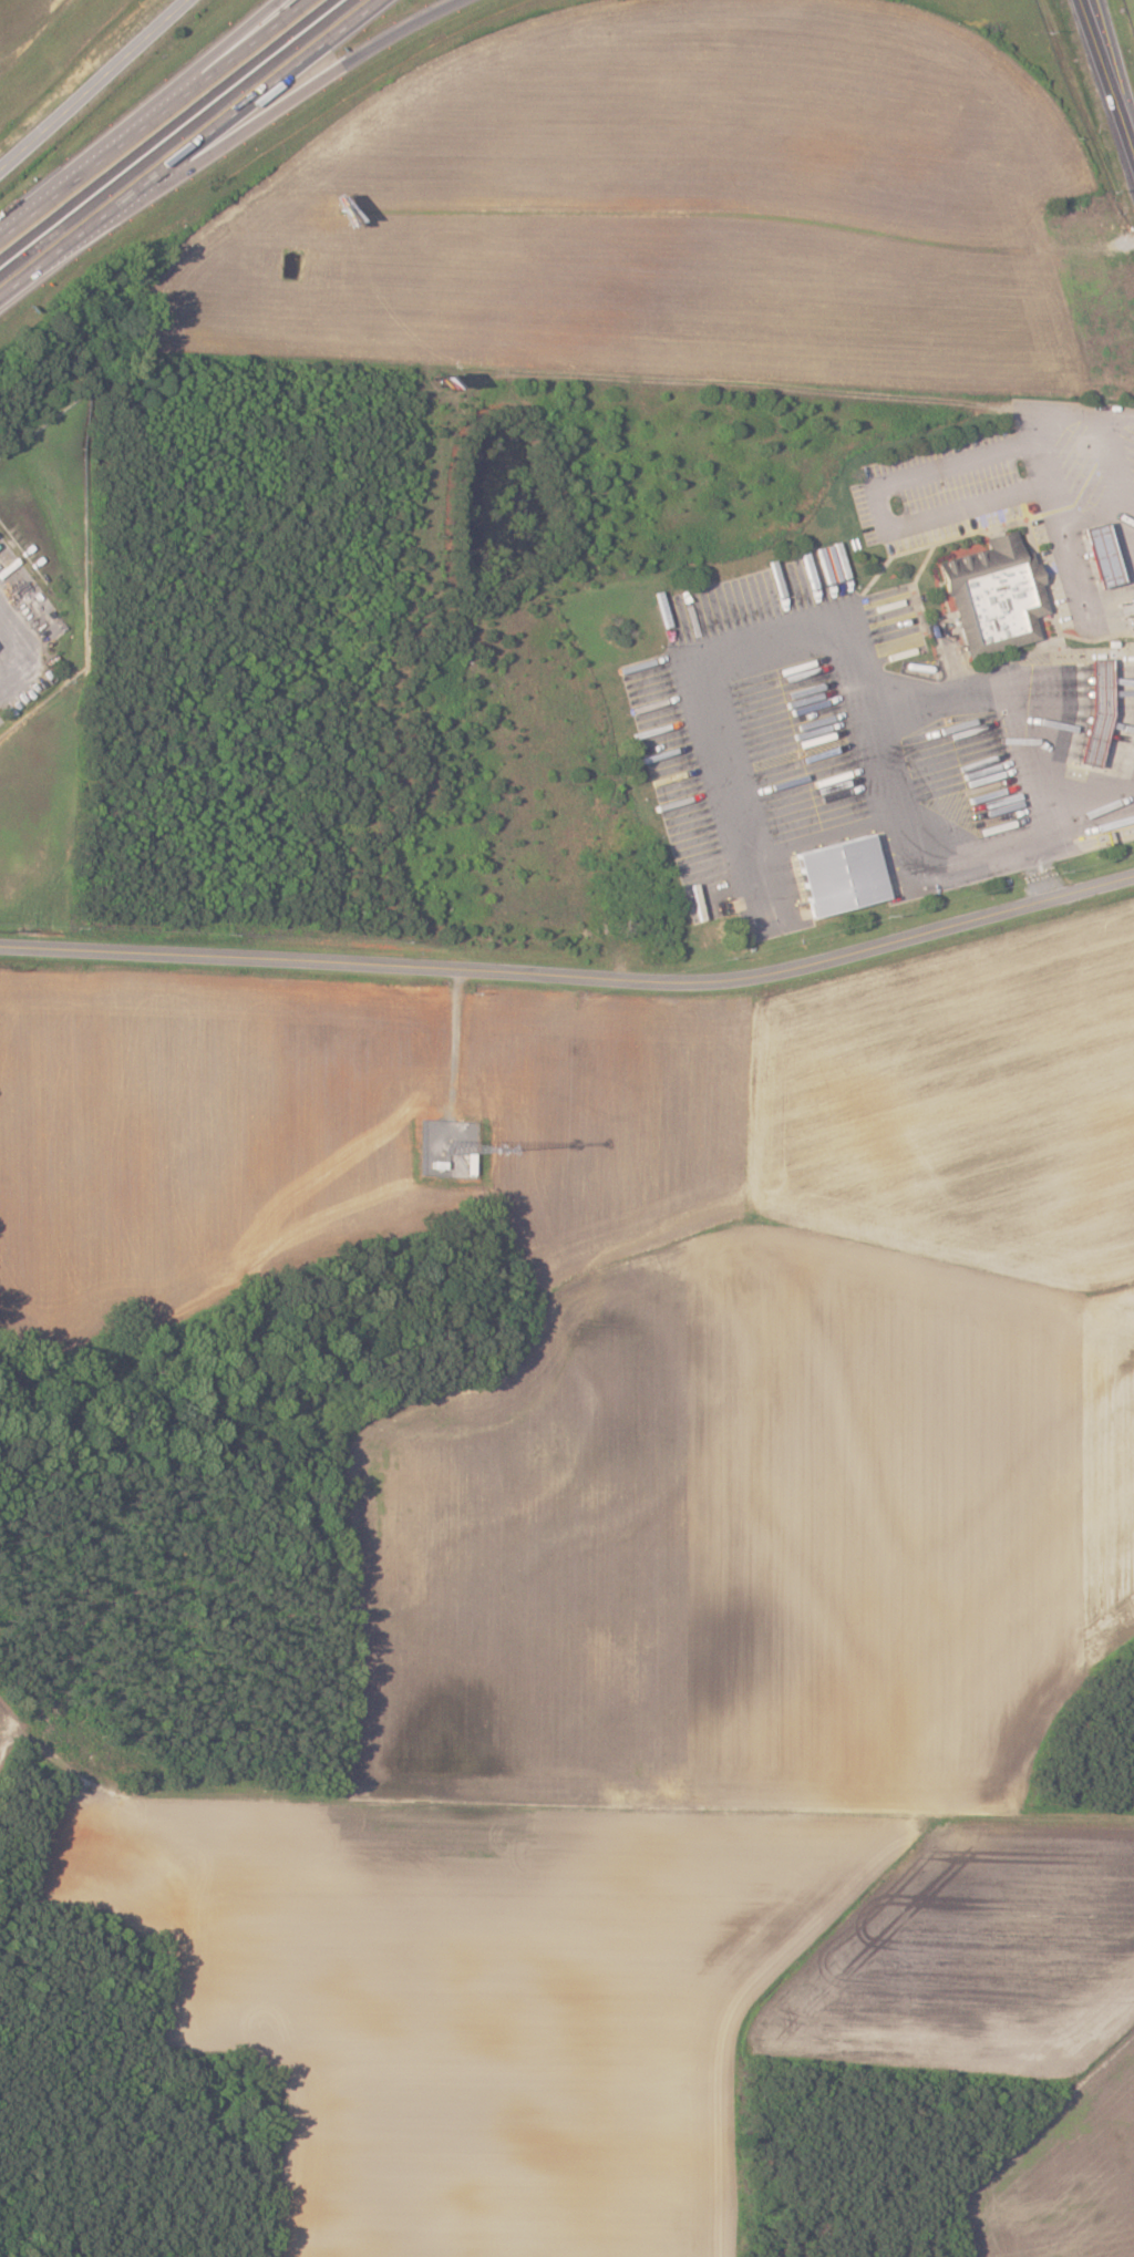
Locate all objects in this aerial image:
road: (1111, 73)
road: (97, 86)
road: (142, 117)
road: (157, 123)
road: (261, 123)
road: (190, 150)
building: (1096, 556)
road: (1132, 560)
building: (993, 596)
road: (10, 661)
gas station: (1092, 713)
building: (1091, 726)
road: (1043, 827)
building: (837, 876)
road: (573, 971)

